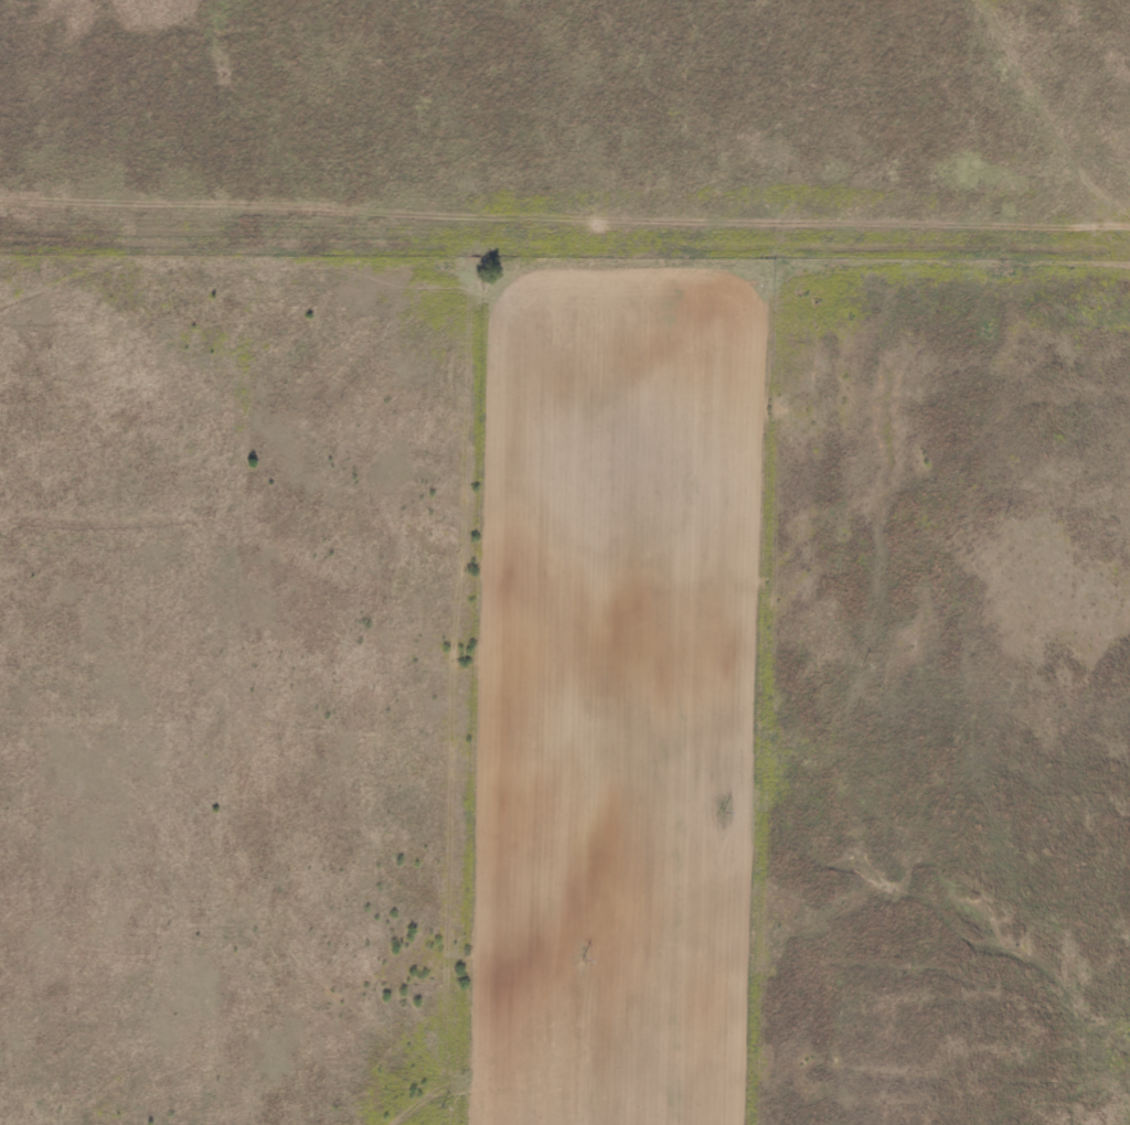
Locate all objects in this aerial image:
road: (1019, 144)

